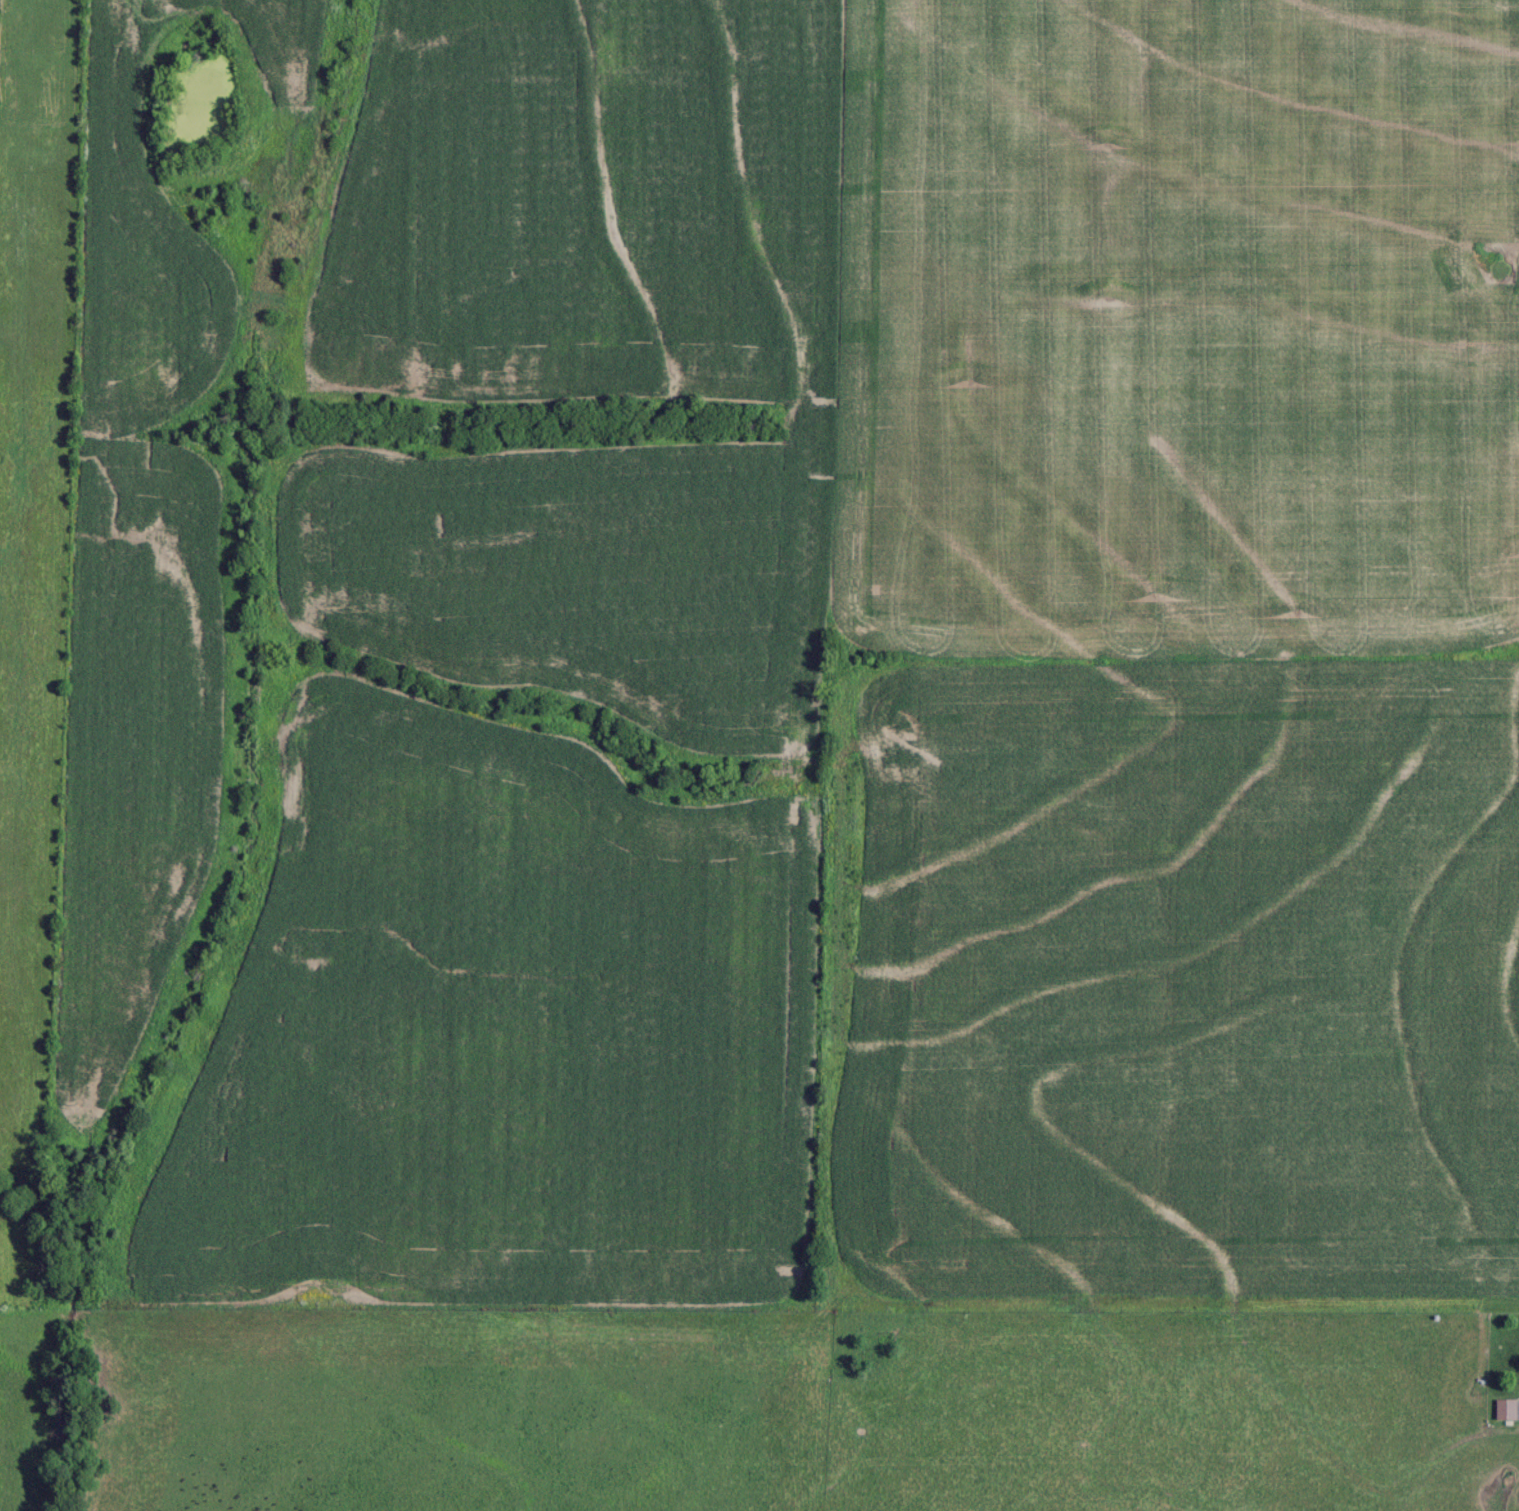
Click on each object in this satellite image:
crop: (1178, 329)
crop: (1173, 982)
building: (1506, 1409)

